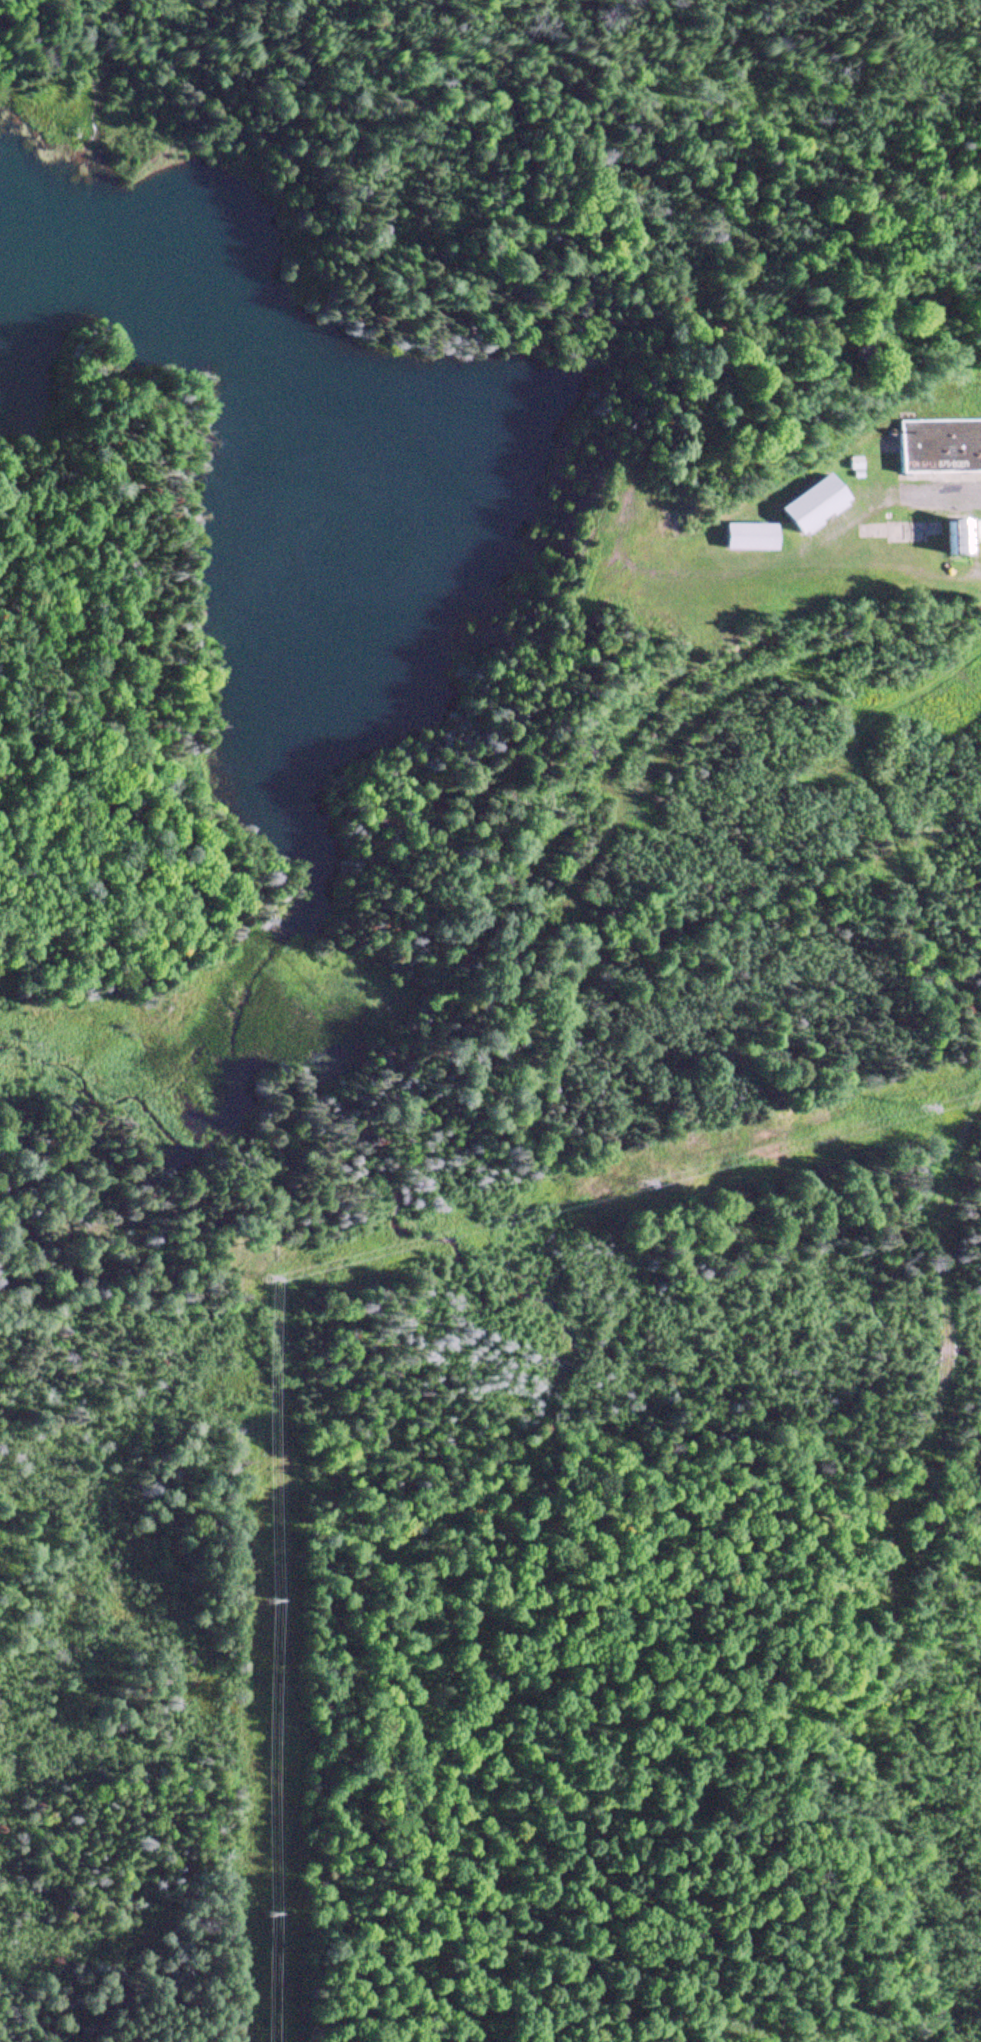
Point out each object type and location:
road: (676, 129)
building: (938, 448)
building: (809, 508)
building: (953, 538)
building: (749, 539)
power tower: (920, 1104)
power tower: (640, 1181)
power tower: (257, 1278)
power tower: (265, 1594)
power tower: (270, 1919)

